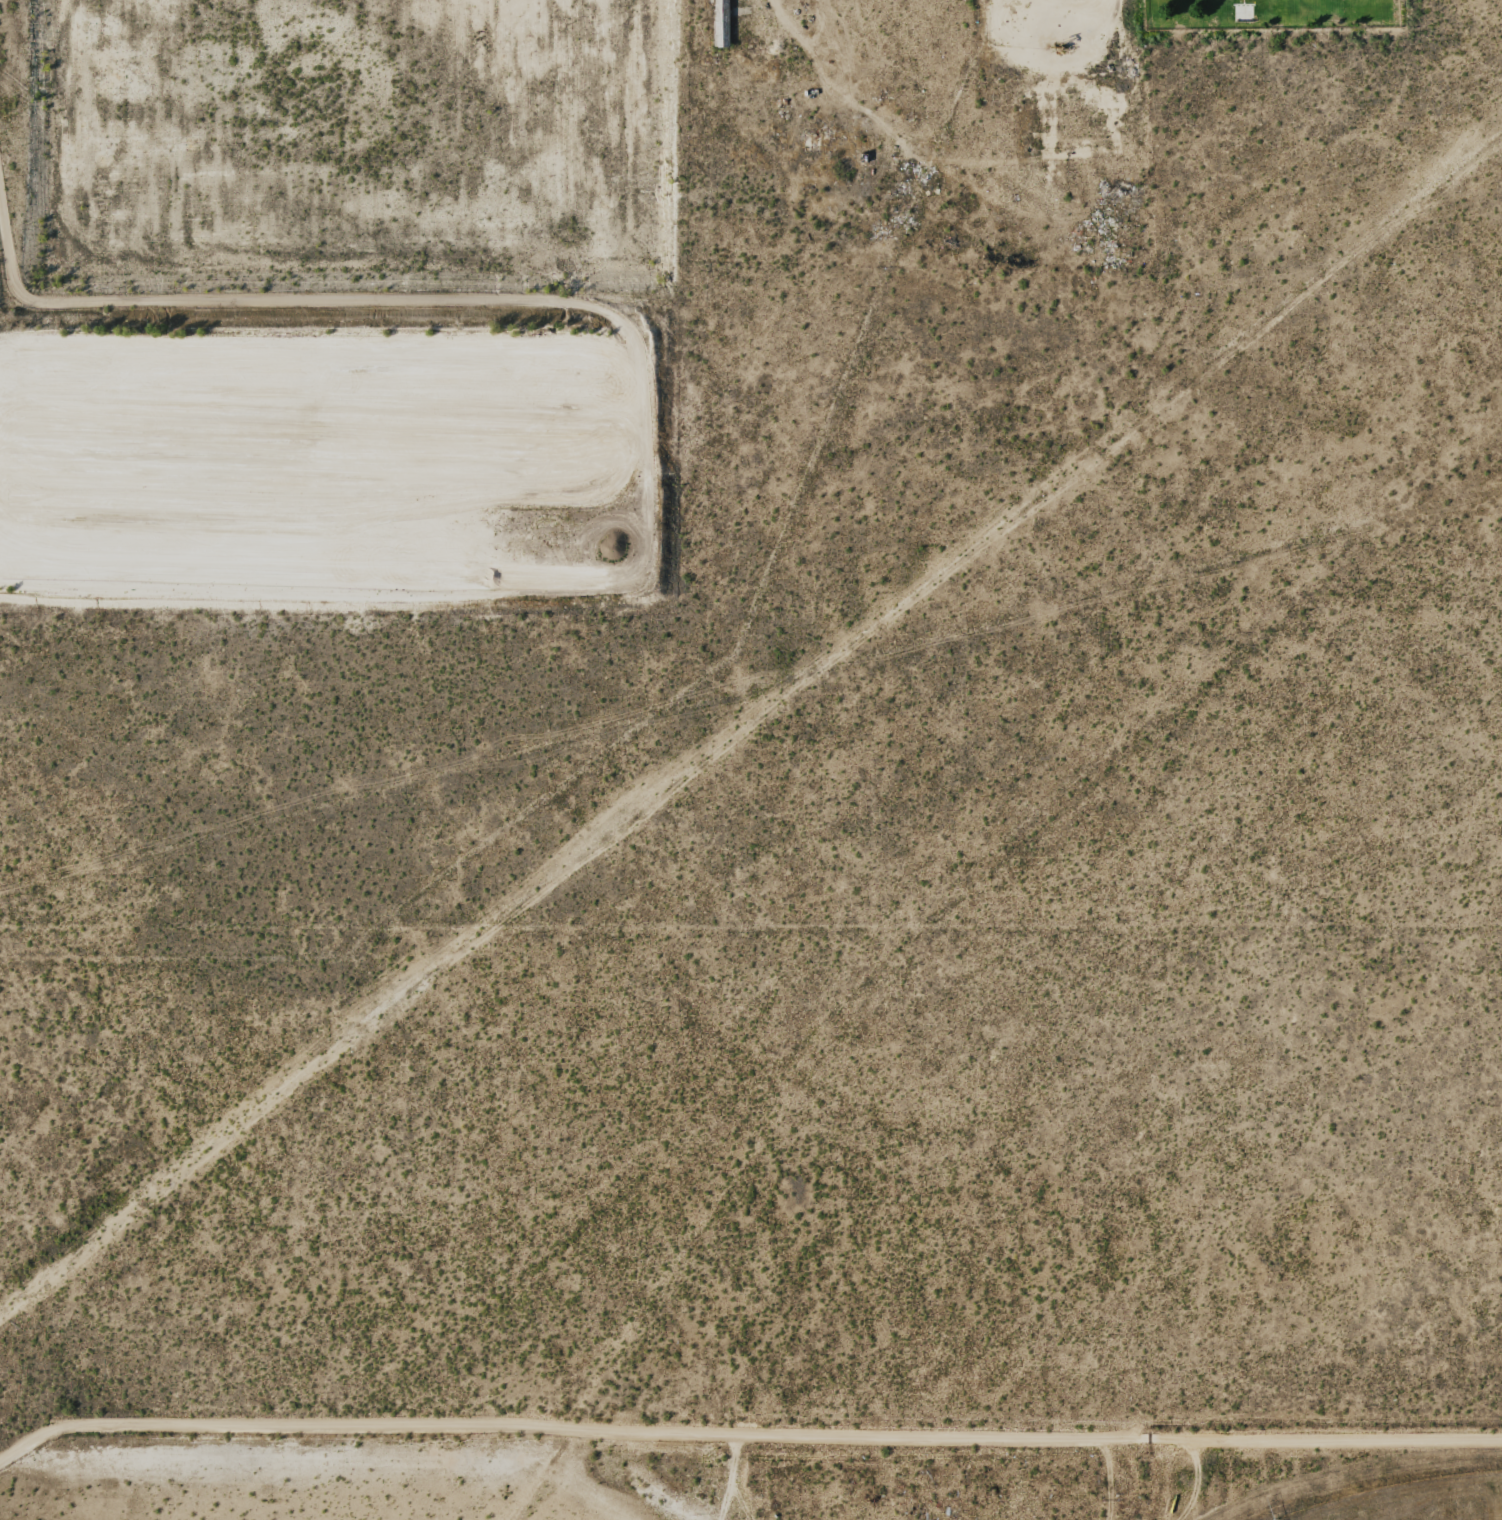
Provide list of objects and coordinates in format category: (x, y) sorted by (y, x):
park: (1270, 14)
road: (1332, 1442)

